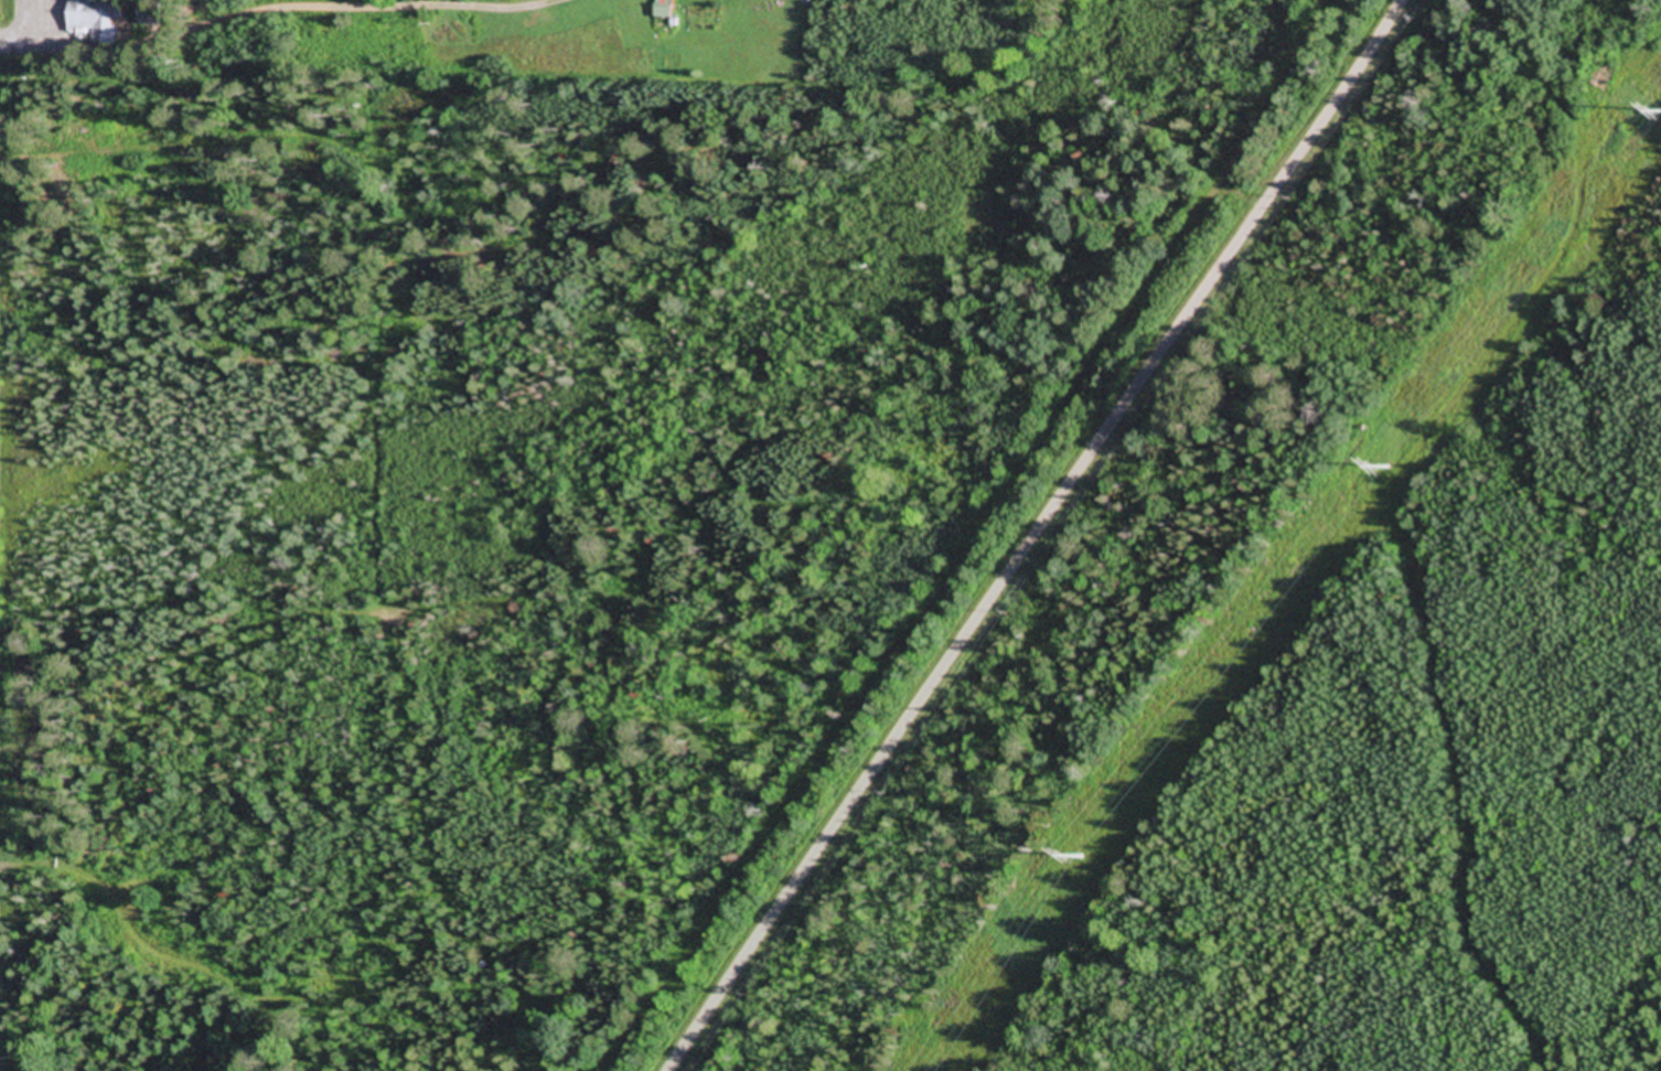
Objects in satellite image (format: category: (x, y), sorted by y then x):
building: (666, 12)
building: (96, 15)
power tower: (1386, 469)
road: (1036, 536)
power tower: (1080, 857)

